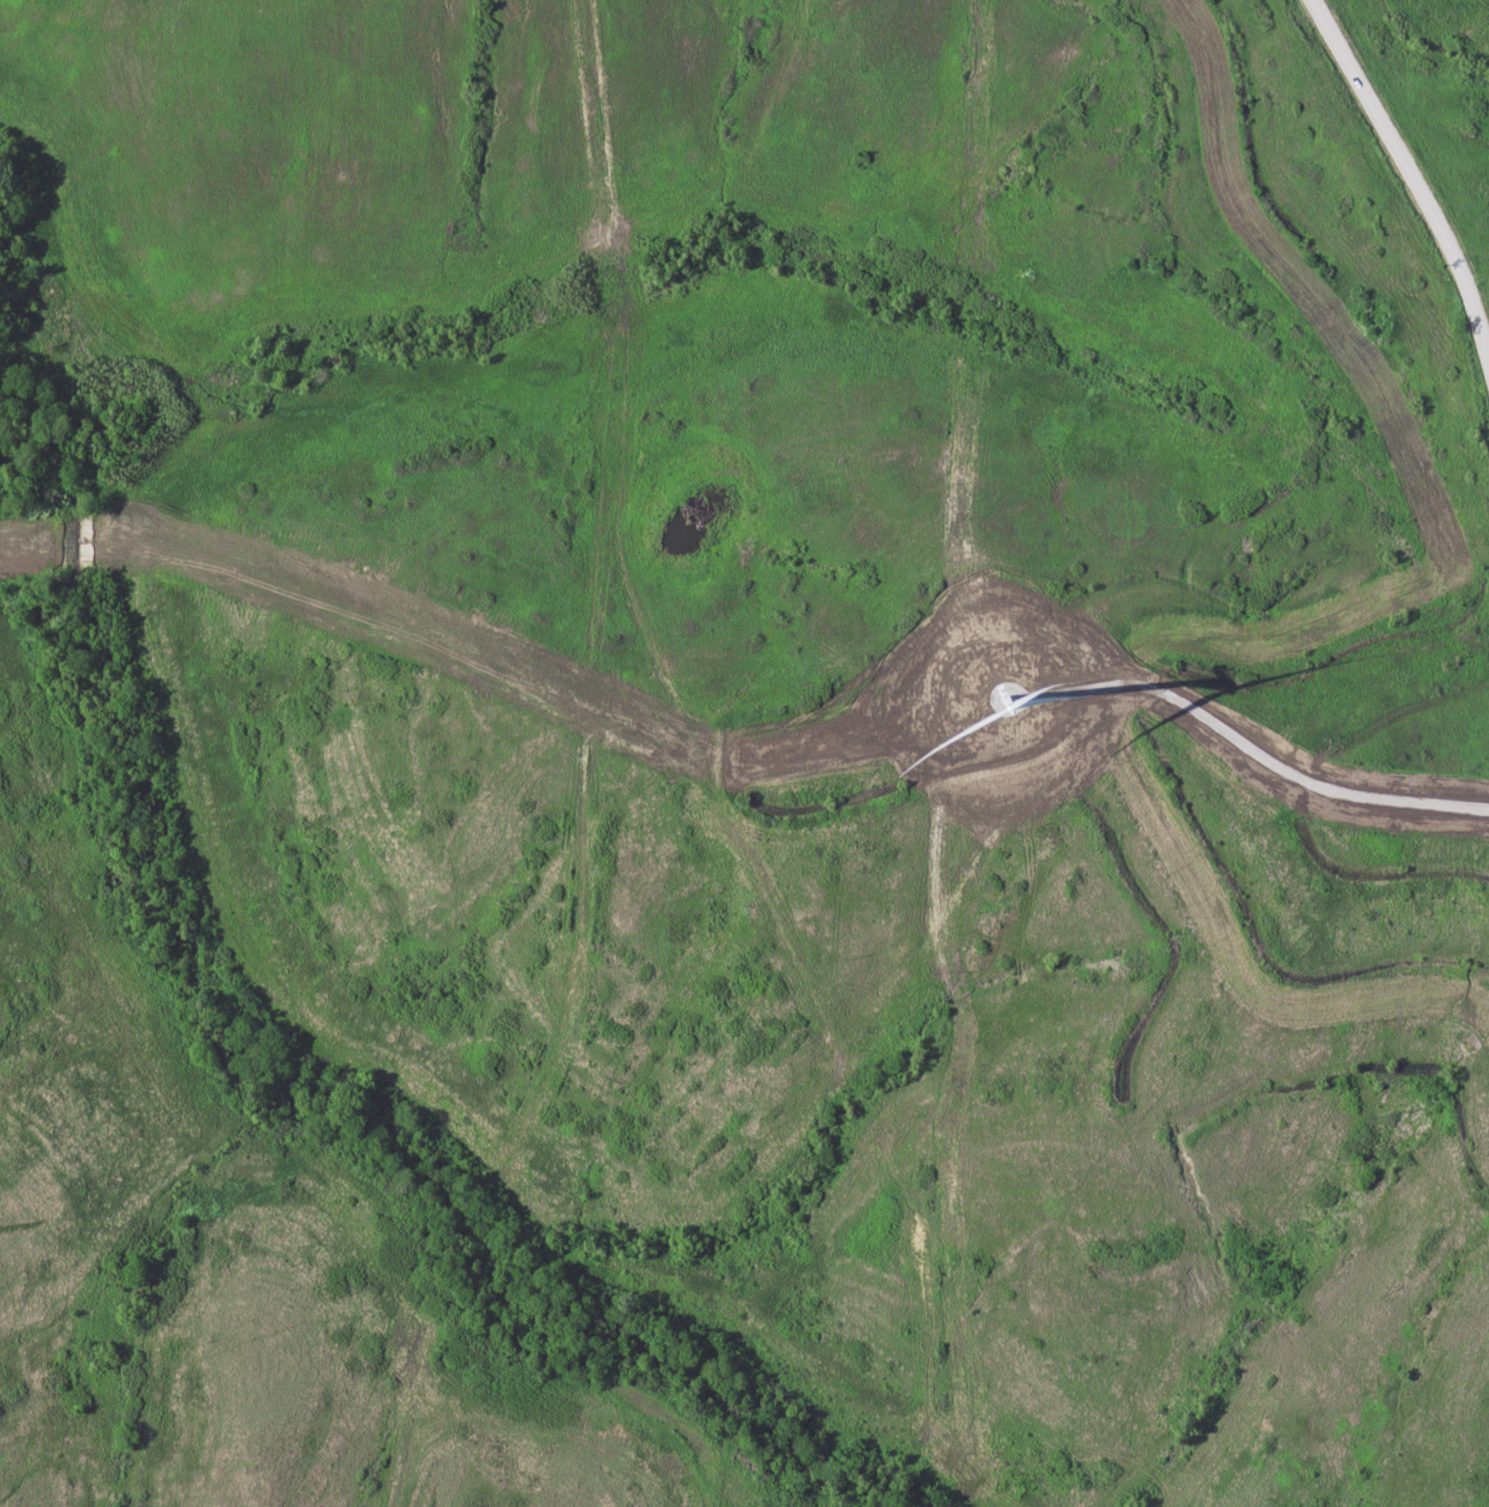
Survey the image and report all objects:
road: (1411, 179)
wind turbine: (1016, 694)

